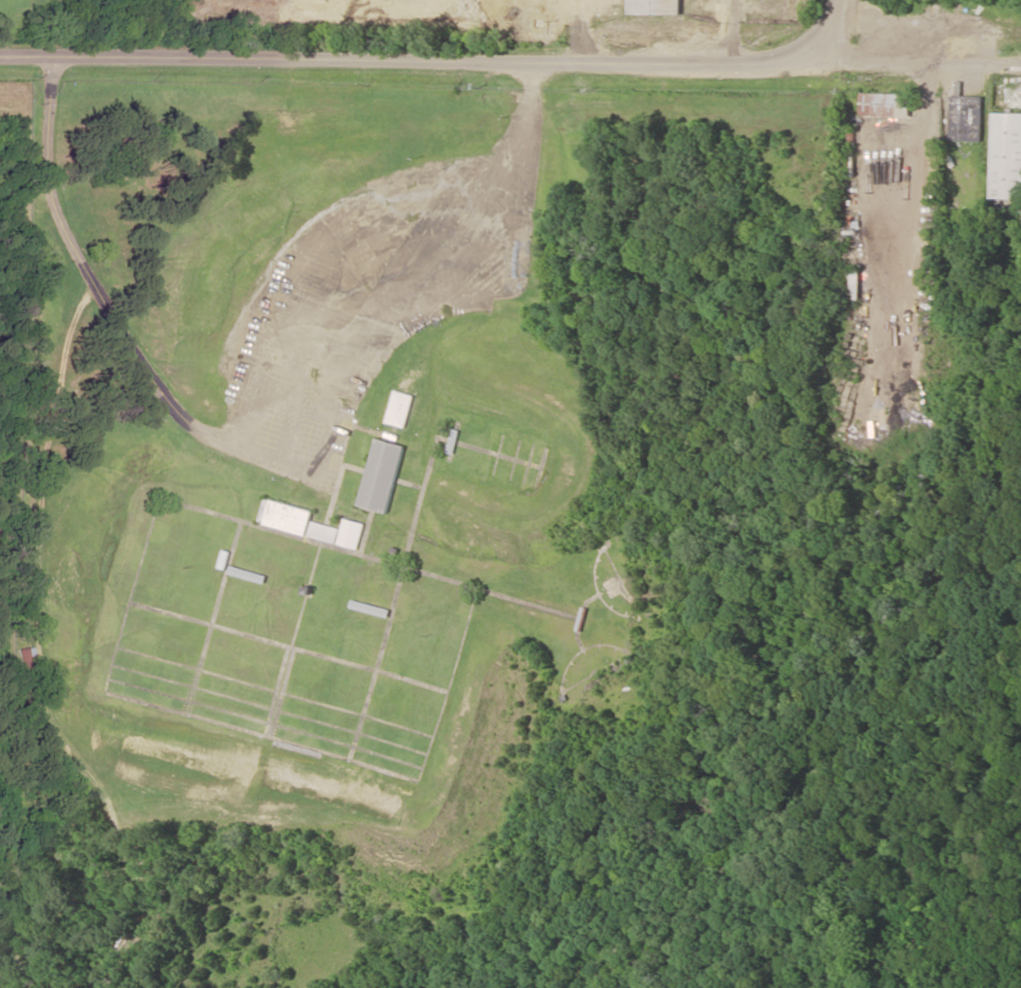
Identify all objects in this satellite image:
building: (654, 6)
road: (829, 20)
road: (917, 61)
road: (412, 62)
building: (884, 104)
building: (1006, 156)
building: (855, 284)
building: (398, 408)
building: (379, 475)
building: (283, 516)
building: (336, 532)

